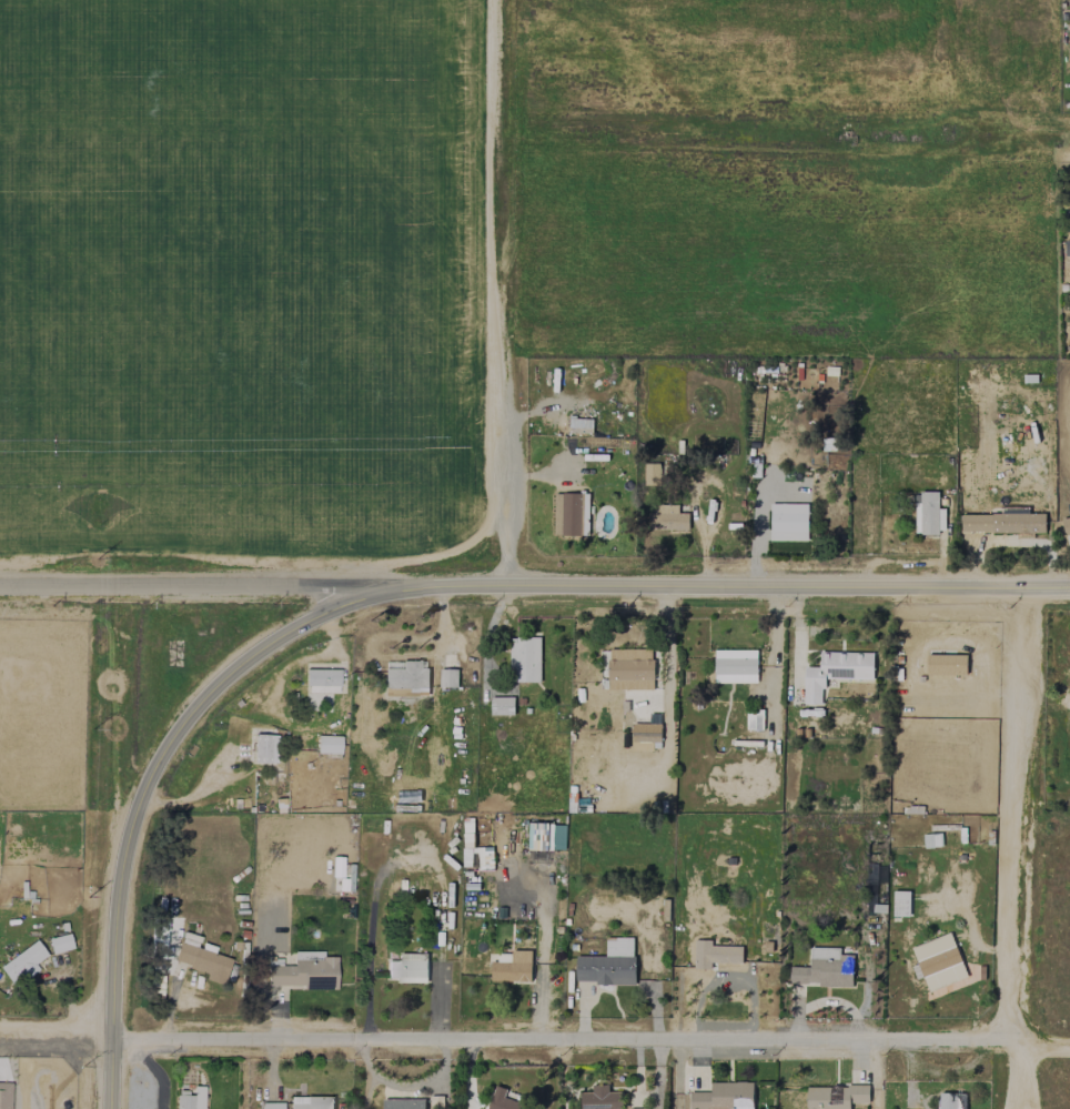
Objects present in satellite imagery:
building: (1068, 221)
building: (1067, 248)
road: (505, 292)
building: (579, 425)
building: (650, 474)
building: (571, 514)
building: (928, 514)
building: (668, 518)
building: (787, 522)
building: (1001, 523)
building: (1066, 524)
road: (534, 584)
building: (524, 659)
building: (946, 664)
building: (735, 666)
building: (629, 669)
building: (835, 672)
building: (405, 677)
building: (447, 677)
building: (322, 679)
road: (1048, 705)
building: (502, 706)
building: (754, 719)
building: (645, 736)
building: (329, 744)
building: (265, 747)
road: (142, 794)
building: (545, 837)
building: (931, 840)
road: (1023, 848)
building: (343, 877)
building: (869, 904)
building: (900, 904)
building: (158, 937)
building: (59, 942)
building: (714, 954)
building: (201, 960)
building: (22, 961)
building: (938, 962)
building: (607, 964)
building: (408, 968)
building: (512, 968)
building: (824, 970)
building: (303, 971)
road: (535, 1044)
road: (157, 1070)
building: (724, 1096)
building: (835, 1097)
building: (190, 1098)
building: (600, 1098)
building: (503, 1100)
building: (951, 1100)
building: (310, 1102)
building: (403, 1103)
building: (272, 1105)
building: (632, 1108)

